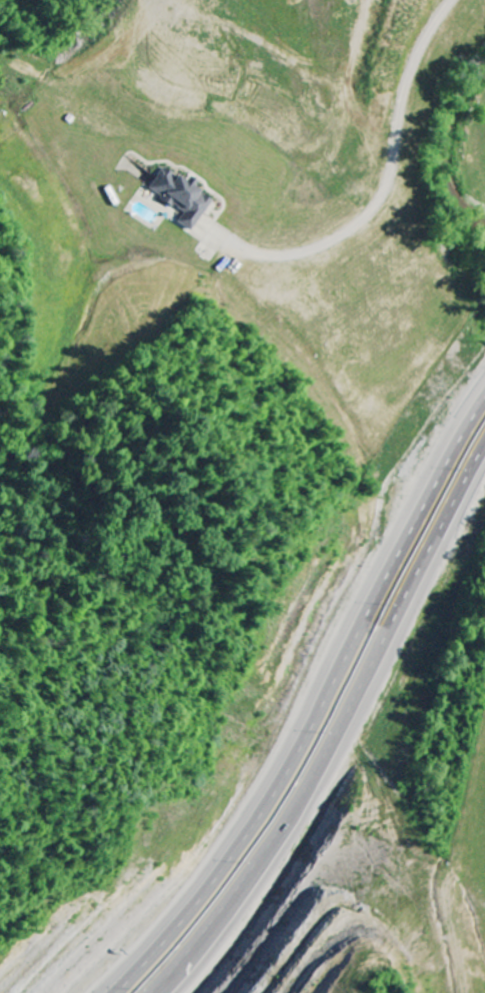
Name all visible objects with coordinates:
road: (453, 2)
river: (447, 145)
building: (177, 197)
road: (325, 704)
road: (344, 730)

